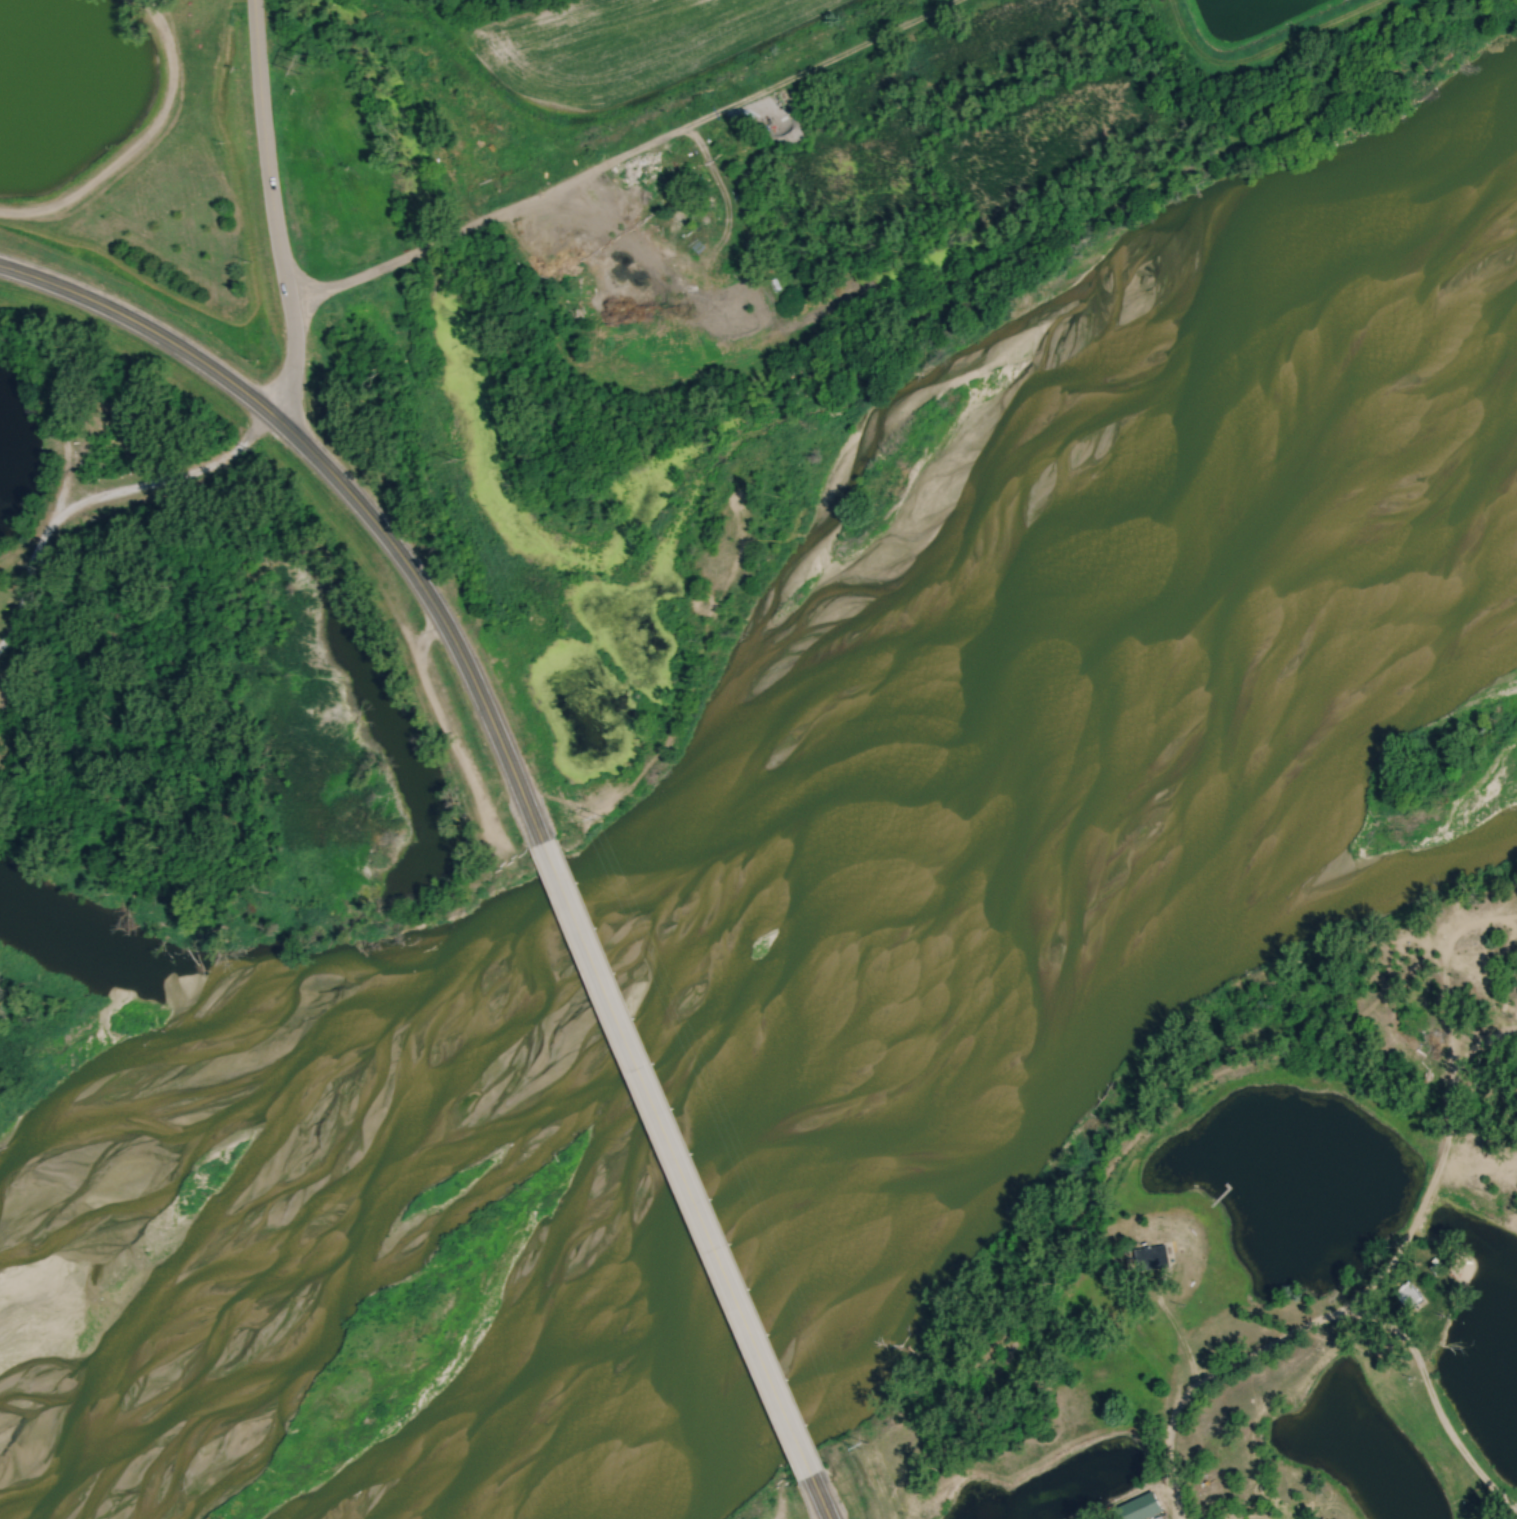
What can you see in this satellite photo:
road: (1258, 56)
road: (136, 142)
road: (630, 157)
road: (271, 212)
road: (336, 488)
road: (101, 495)
river: (731, 832)
road: (1477, 1042)
road: (675, 1158)
road: (1322, 1317)
road: (1432, 1406)
road: (817, 1497)
building: (1141, 1508)

